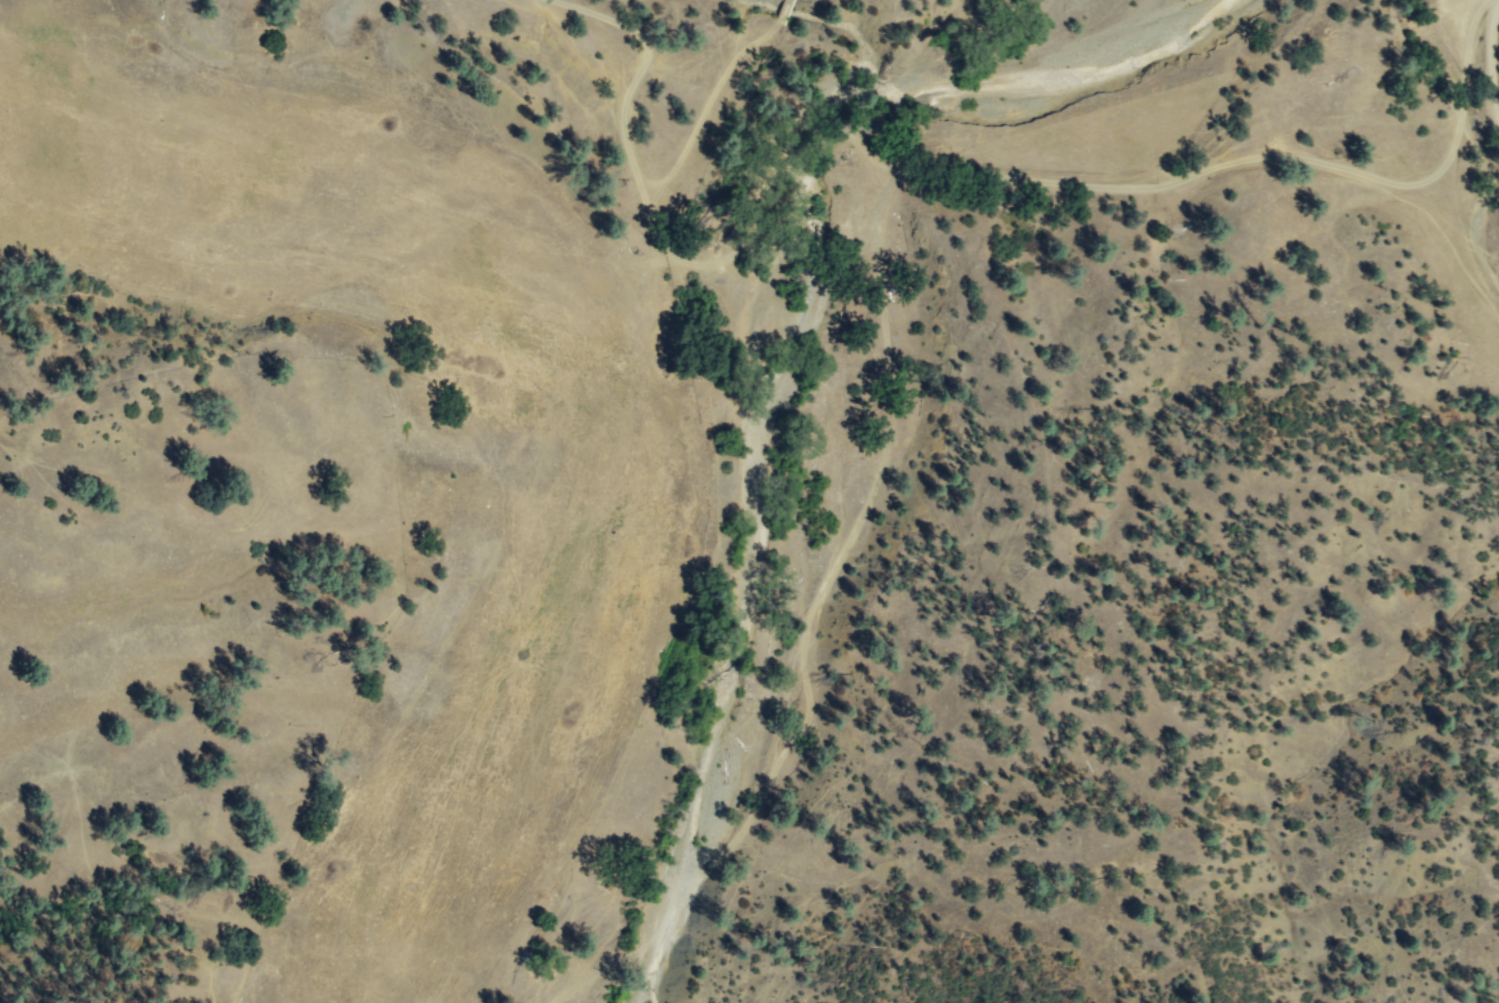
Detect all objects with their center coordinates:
river: (798, 342)

